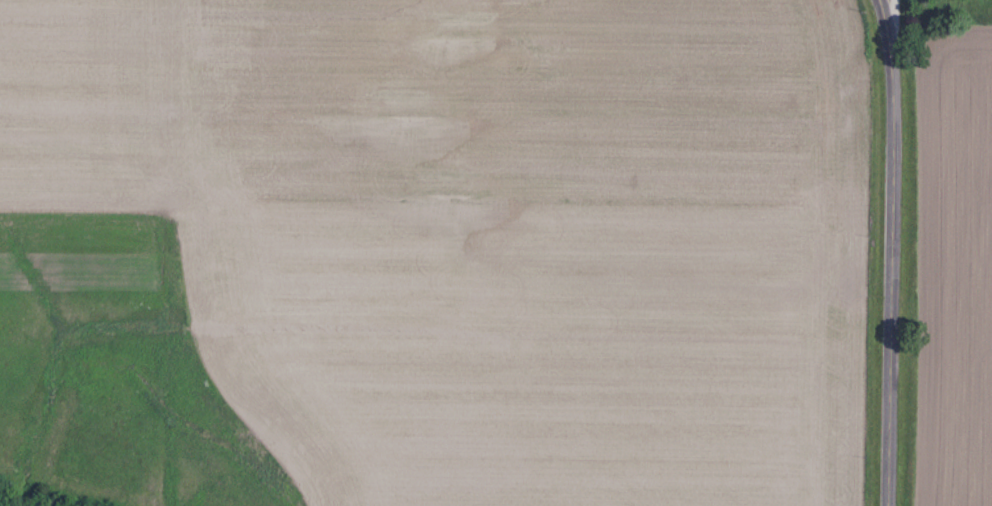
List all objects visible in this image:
road: (899, 37)
road: (895, 252)

